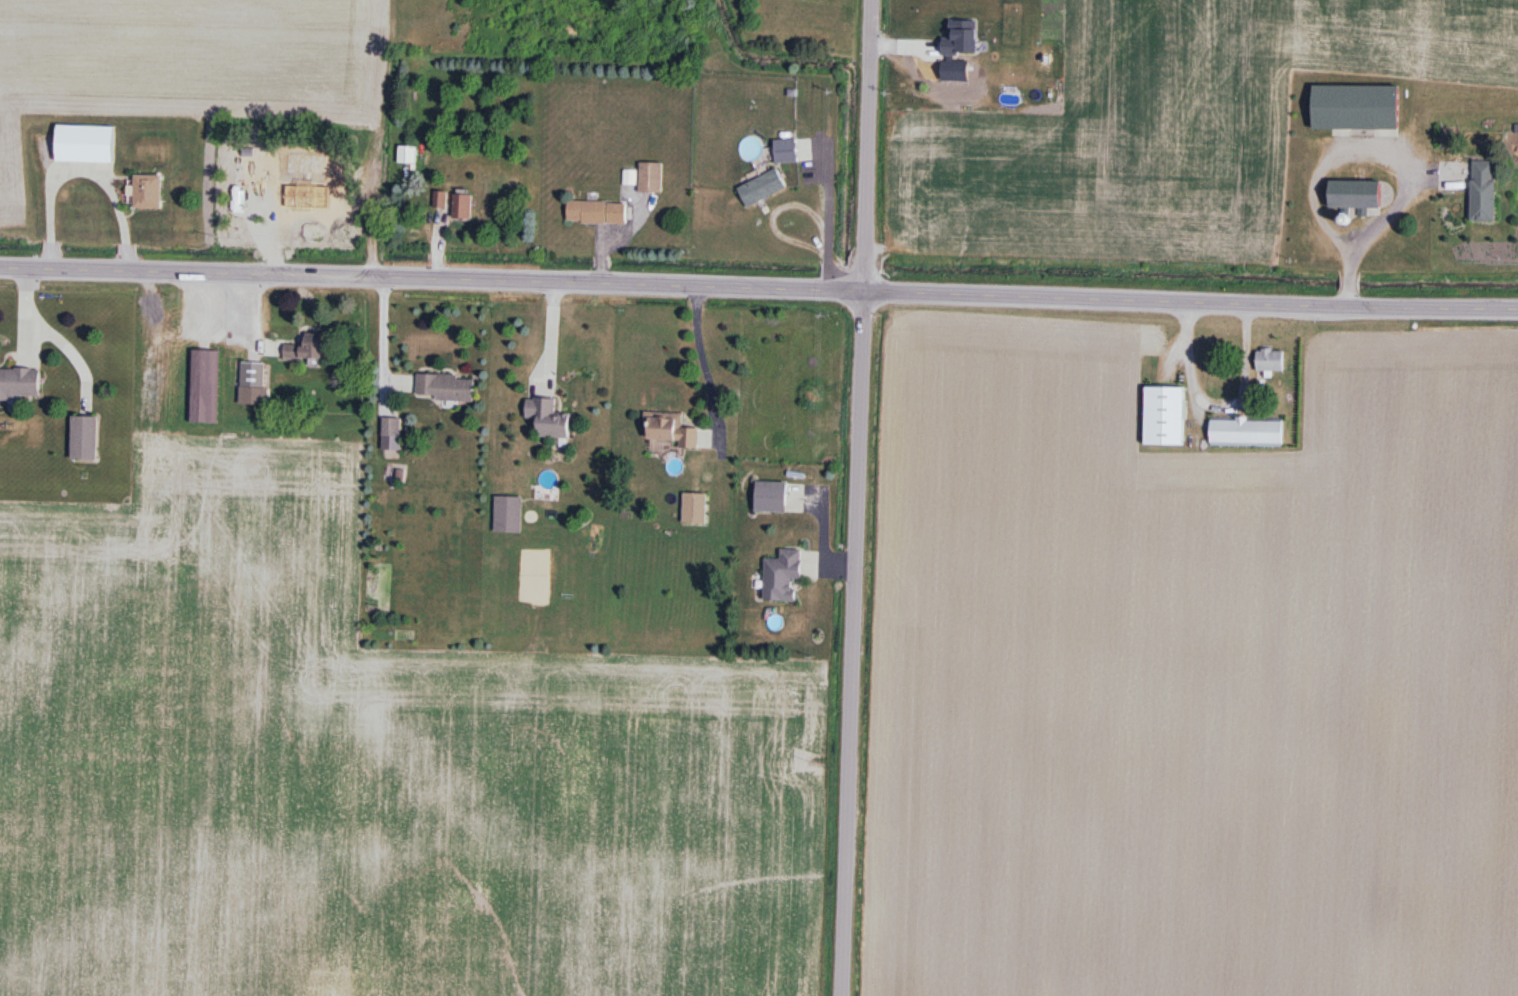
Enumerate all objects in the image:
building: (1355, 108)
building: (84, 144)
road: (1401, 150)
building: (786, 151)
building: (407, 155)
road: (80, 171)
building: (651, 178)
building: (762, 188)
building: (1483, 191)
building: (146, 192)
building: (1355, 195)
building: (440, 200)
building: (462, 206)
building: (597, 212)
road: (759, 285)
road: (385, 335)
road: (552, 335)
road: (54, 336)
building: (311, 348)
road: (706, 361)
building: (1270, 361)
building: (19, 383)
building: (253, 384)
building: (445, 388)
building: (204, 410)
building: (1164, 416)
building: (548, 419)
building: (392, 427)
building: (671, 430)
building: (1247, 432)
building: (83, 438)
building: (771, 497)
road: (857, 498)
building: (508, 514)
building: (782, 576)

